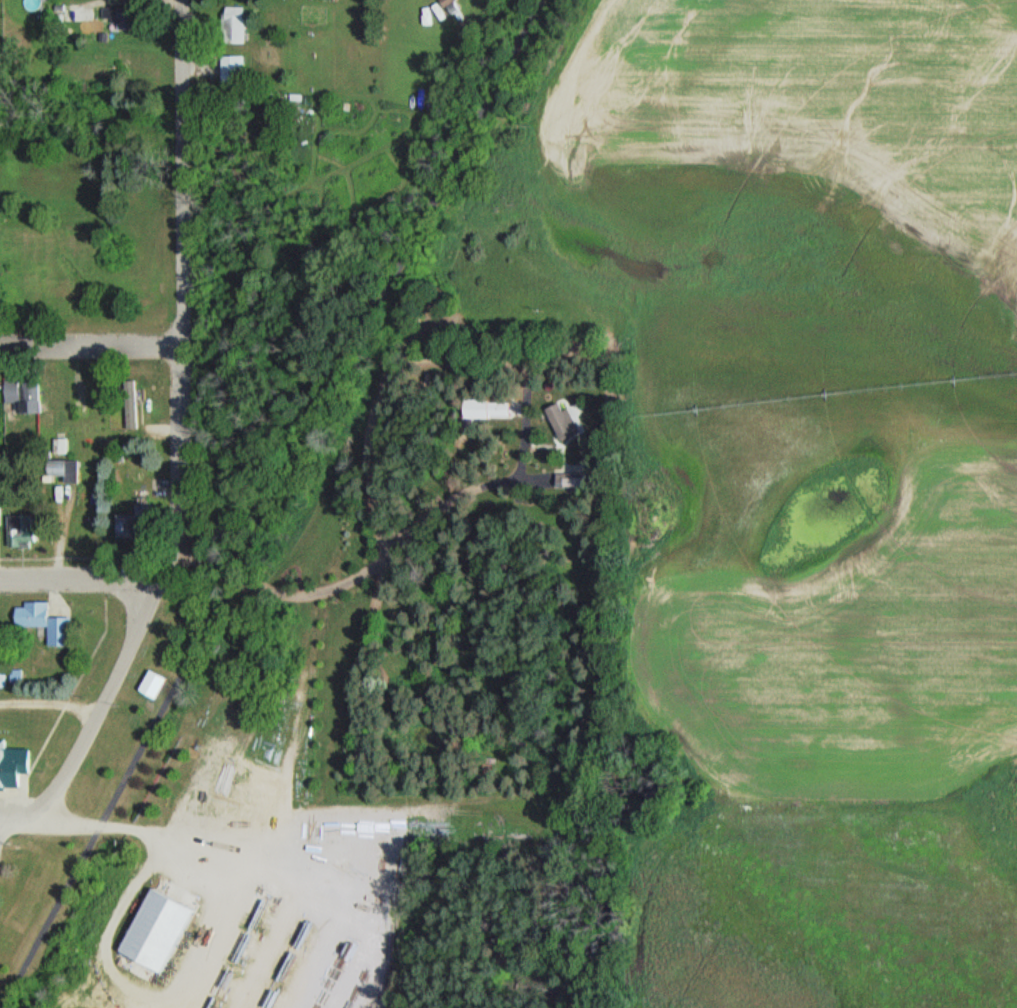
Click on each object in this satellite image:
building: (112, 15)
building: (231, 26)
building: (230, 72)
road: (183, 296)
road: (92, 344)
building: (23, 396)
building: (128, 405)
building: (485, 409)
building: (558, 417)
building: (51, 469)
road: (273, 504)
building: (121, 526)
building: (18, 531)
road: (80, 581)
building: (43, 622)
road: (103, 707)
building: (12, 765)
road: (72, 822)
building: (151, 931)

